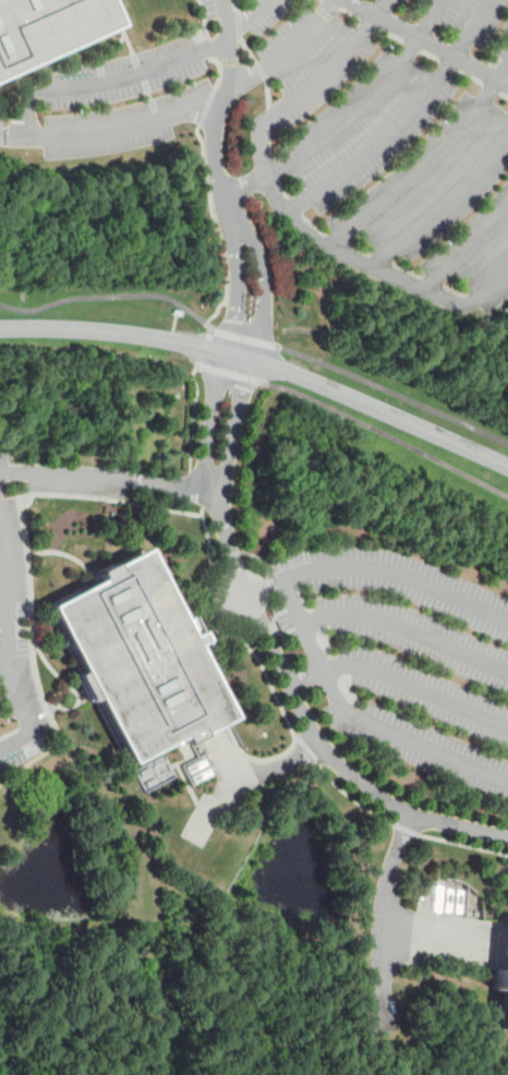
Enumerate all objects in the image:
road: (334, 3)
road: (235, 5)
road: (351, 13)
road: (250, 15)
road: (227, 16)
road: (205, 19)
road: (239, 23)
road: (368, 23)
building: (45, 26)
road: (123, 26)
road: (389, 34)
road: (430, 41)
road: (412, 45)
road: (114, 48)
road: (210, 48)
road: (249, 49)
road: (287, 50)
road: (432, 55)
road: (450, 64)
road: (221, 69)
road: (262, 71)
road: (472, 76)
road: (310, 84)
road: (493, 88)
road: (268, 93)
road: (505, 94)
road: (366, 100)
road: (208, 106)
road: (27, 109)
road: (403, 121)
parking lot: (332, 126)
road: (215, 131)
road: (14, 133)
road: (427, 166)
road: (444, 206)
road: (216, 227)
road: (337, 251)
road: (467, 253)
road: (263, 281)
road: (237, 282)
road: (493, 283)
road: (108, 294)
road: (174, 322)
road: (244, 337)
road: (241, 346)
road: (205, 347)
road: (262, 363)
road: (232, 374)
road: (394, 391)
road: (193, 418)
road: (387, 436)
road: (107, 478)
road: (196, 488)
road: (24, 523)
road: (208, 536)
road: (400, 575)
road: (264, 588)
parking lot: (13, 600)
road: (202, 604)
road: (213, 609)
road: (409, 630)
road: (286, 633)
road: (9, 639)
road: (277, 655)
parking lot: (402, 656)
building: (138, 659)
road: (401, 683)
road: (360, 720)
road: (225, 757)
road: (257, 760)
road: (290, 763)
road: (342, 790)
road: (225, 801)
road: (380, 919)
road: (434, 941)
building: (504, 978)

